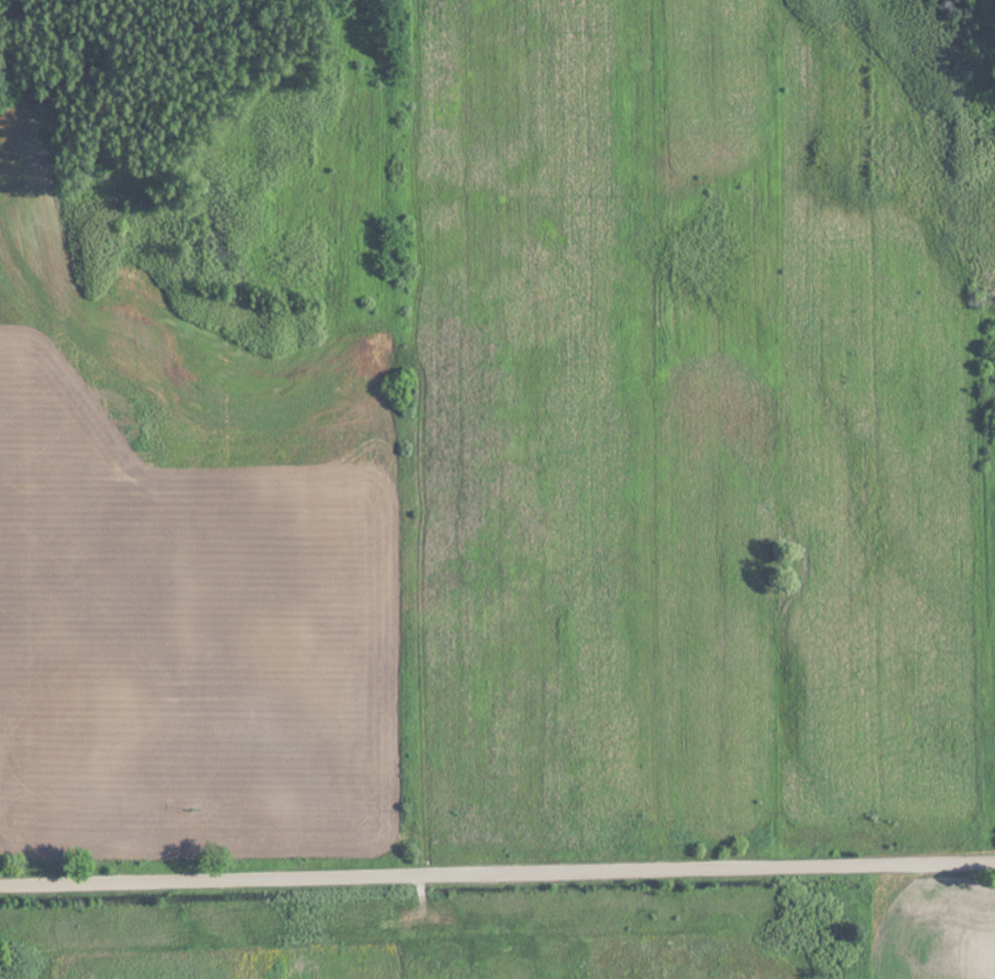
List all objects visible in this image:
road: (497, 873)

